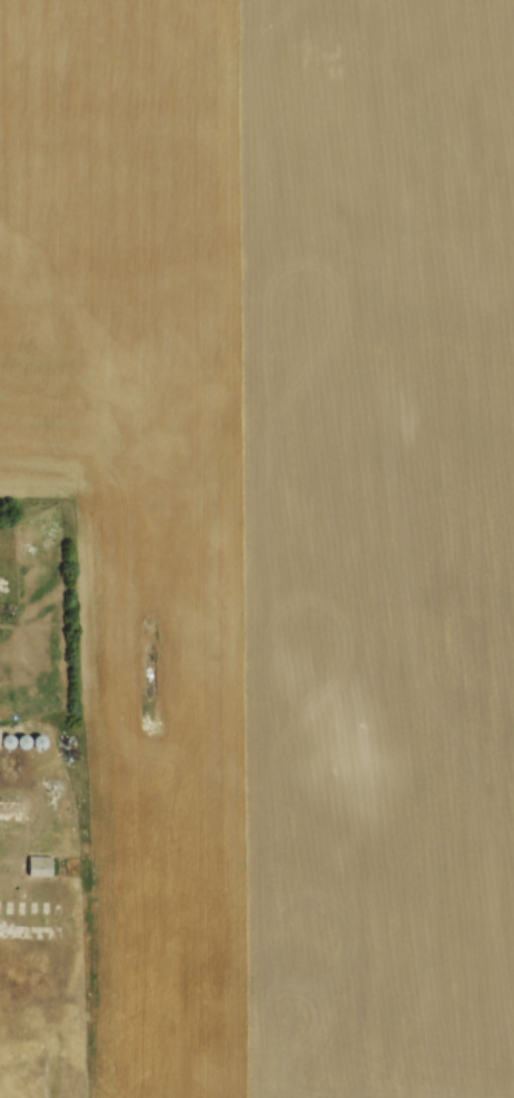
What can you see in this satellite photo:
crop: (277, 524)
silo: (7, 736)
silo: (22, 736)
silo: (39, 738)
road: (18, 756)
building: (39, 862)

